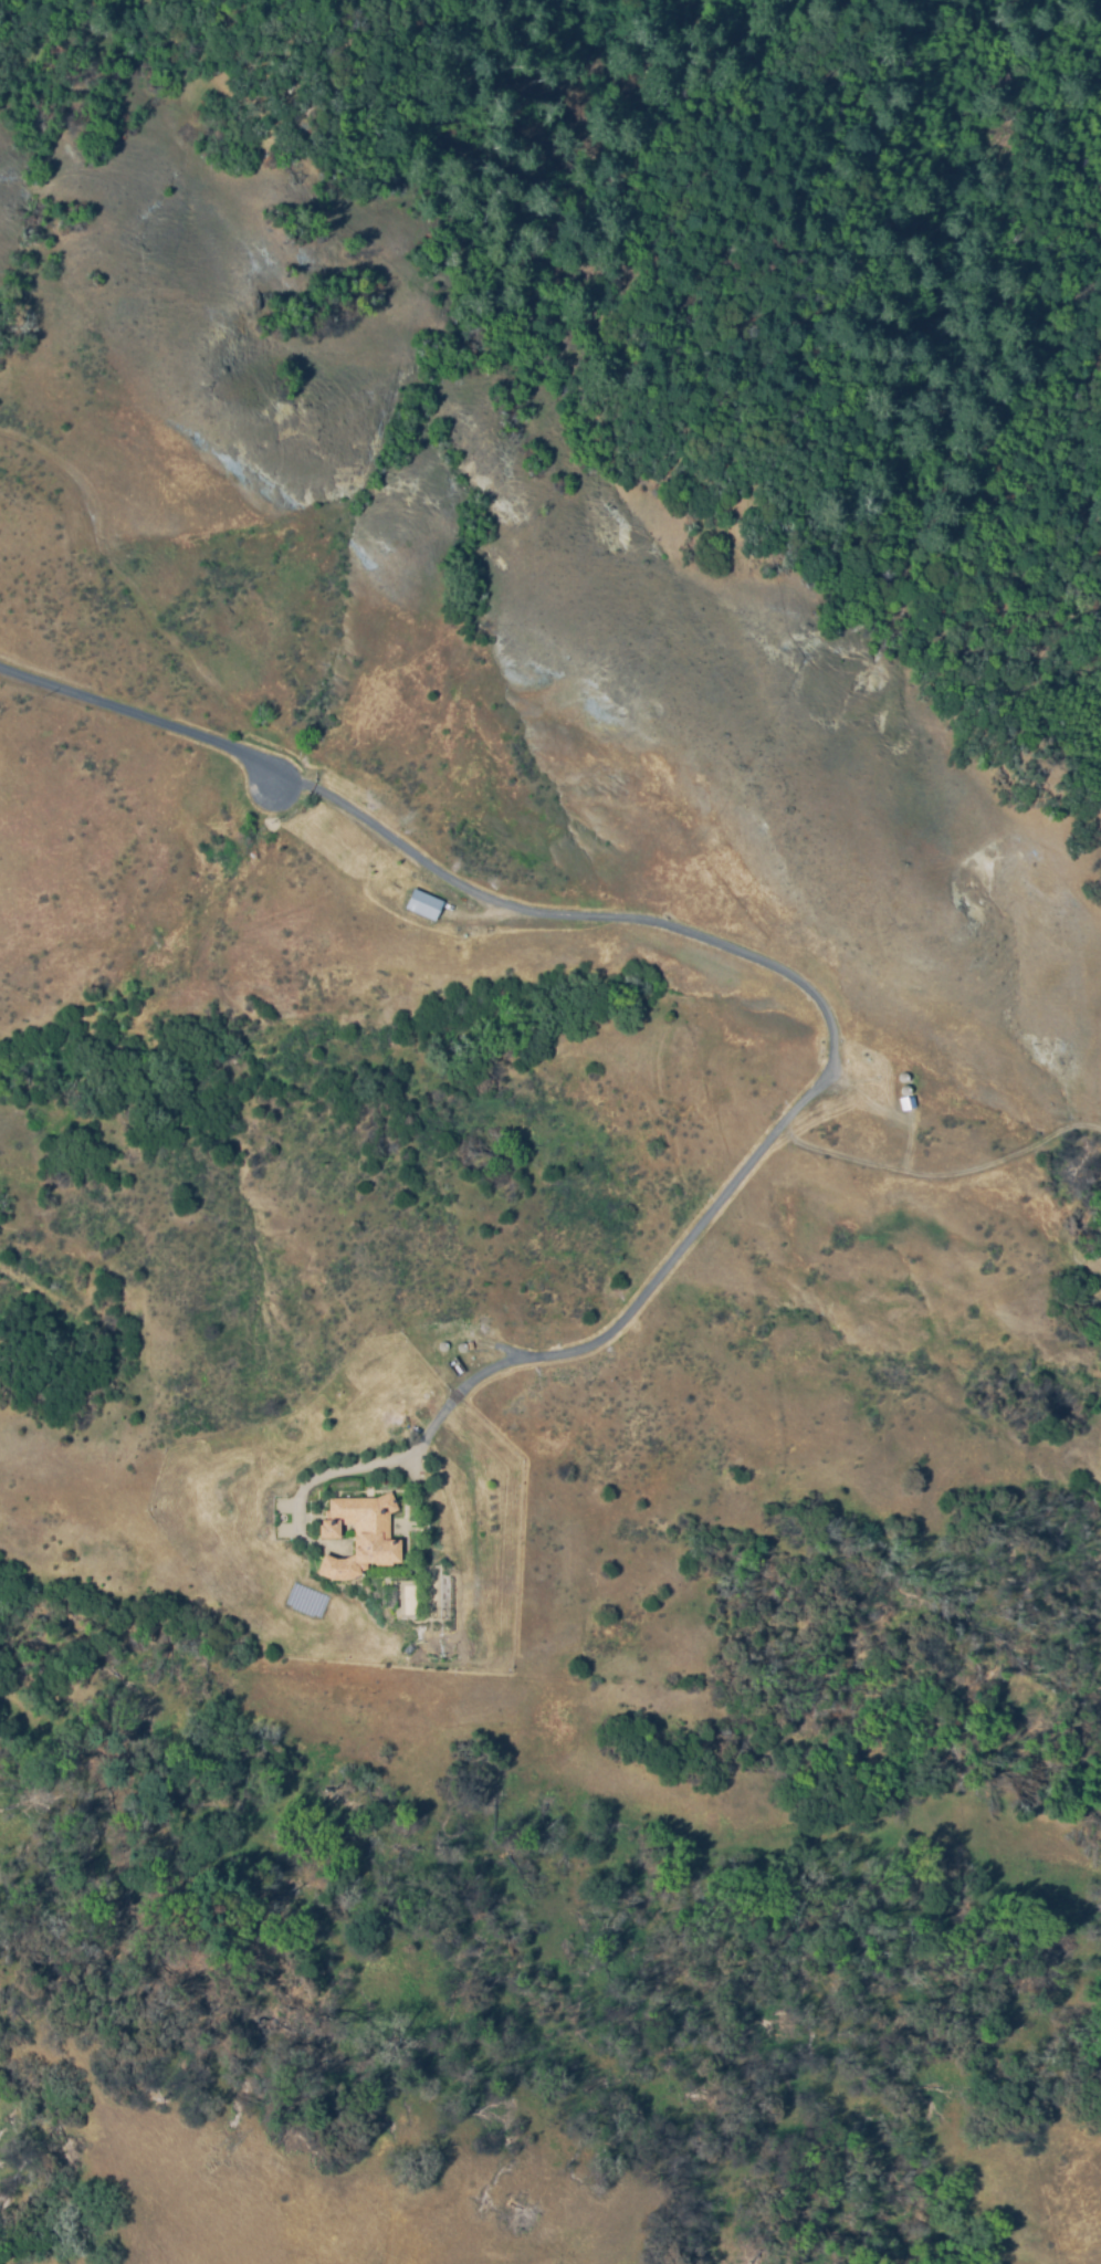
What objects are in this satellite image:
road: (436, 870)
building: (416, 904)
building: (902, 1077)
building: (904, 1089)
building: (906, 1102)
road: (638, 1299)
building: (442, 1344)
building: (469, 1344)
building: (461, 1346)
building: (359, 1534)

